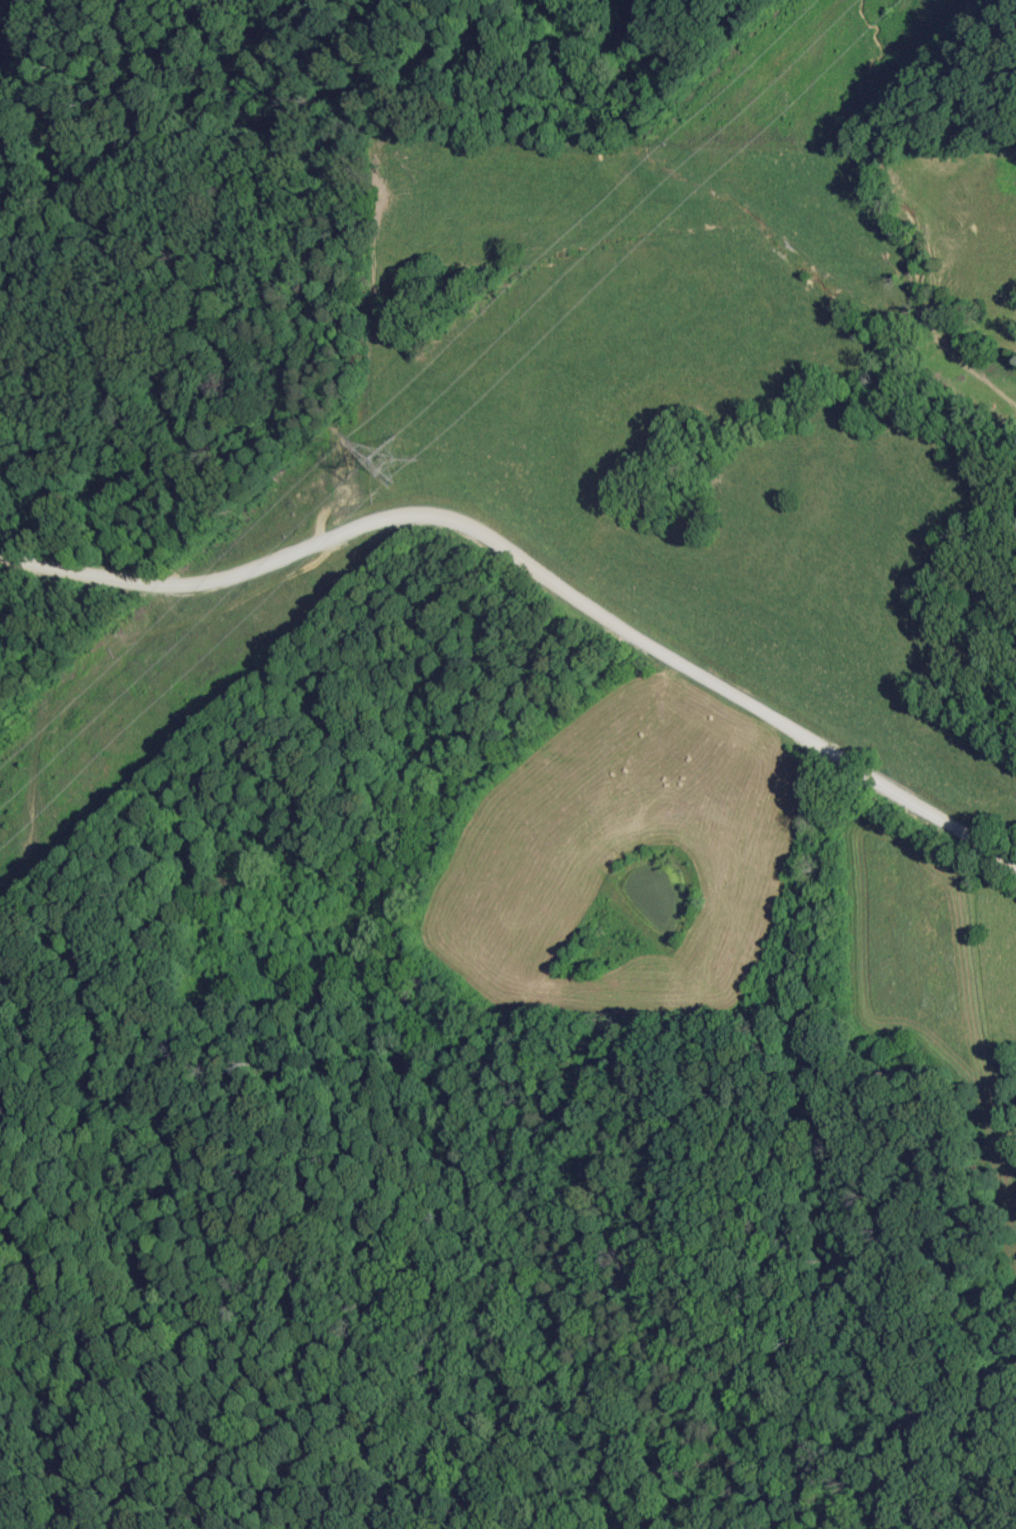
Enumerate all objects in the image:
power tower: (401, 469)
road: (546, 566)

